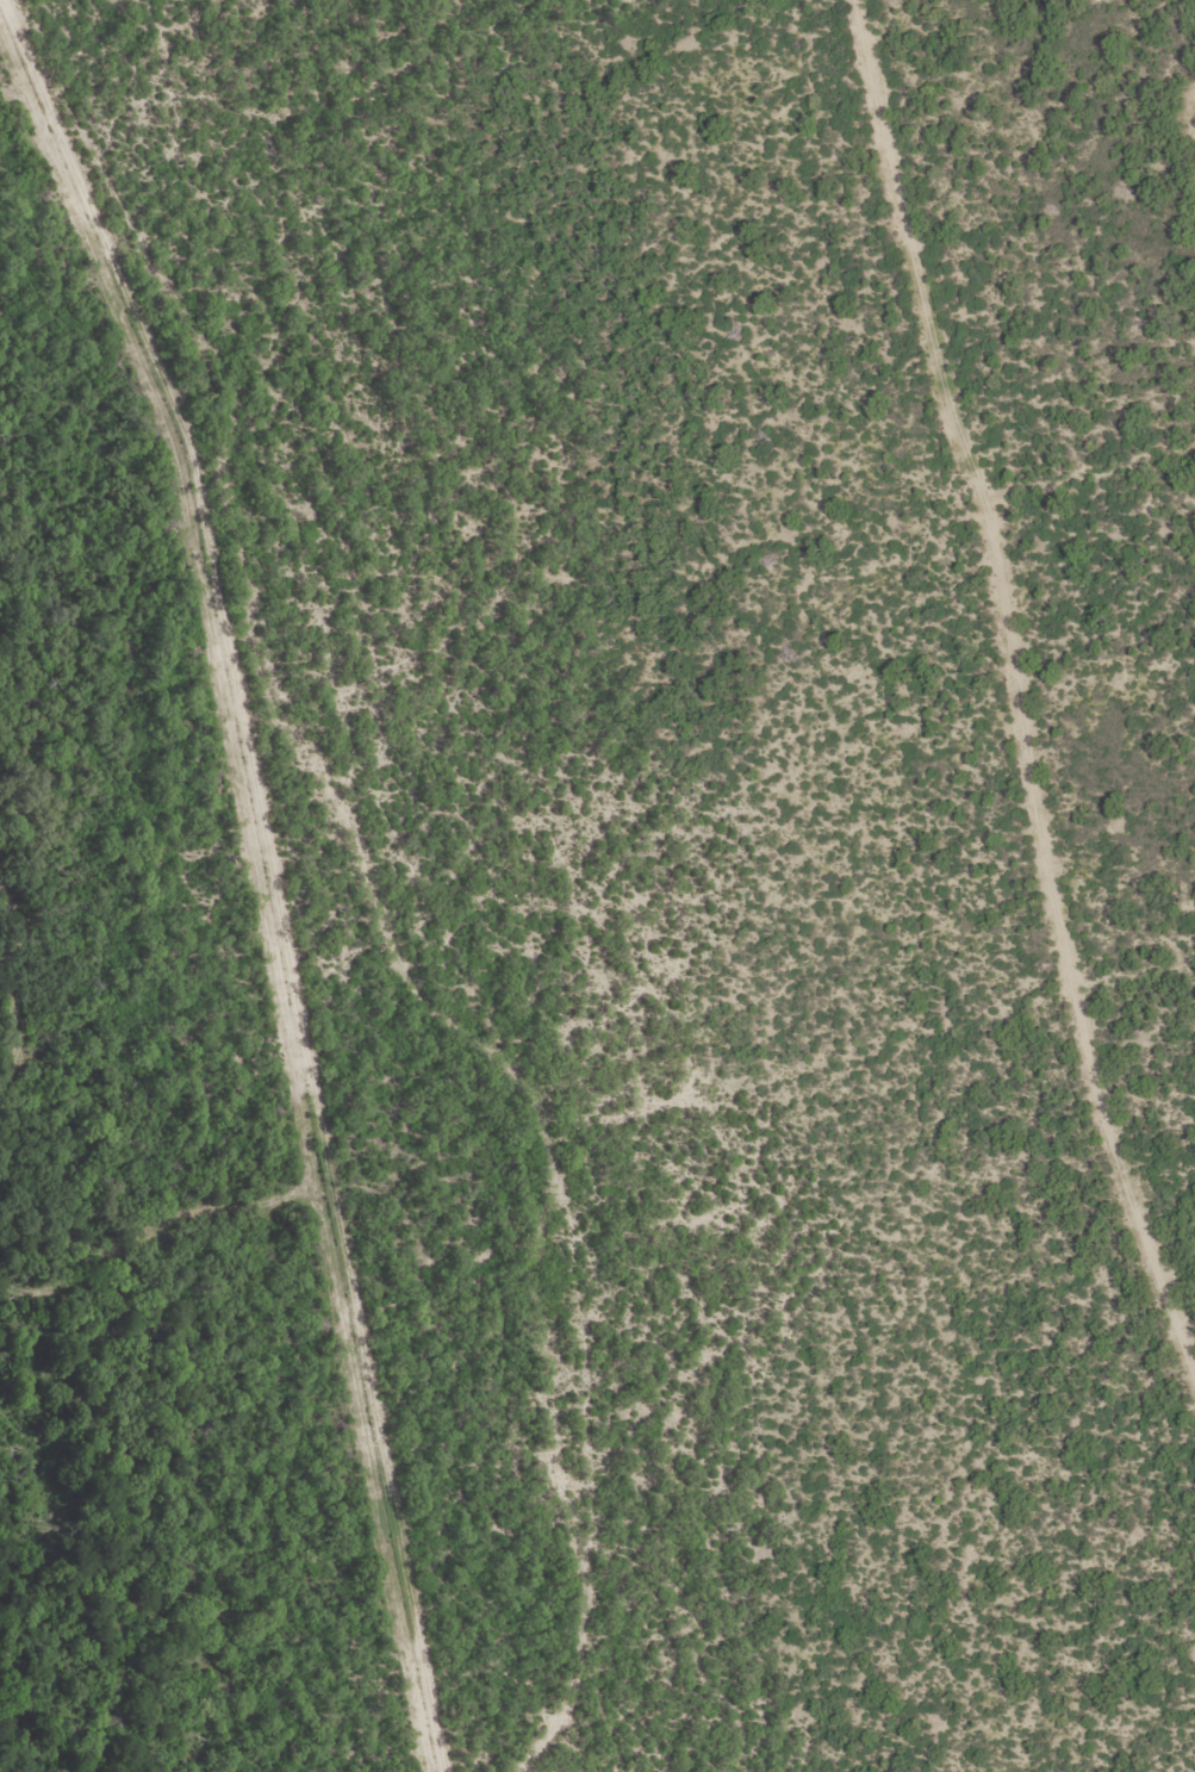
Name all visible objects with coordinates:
road: (388, 900)

